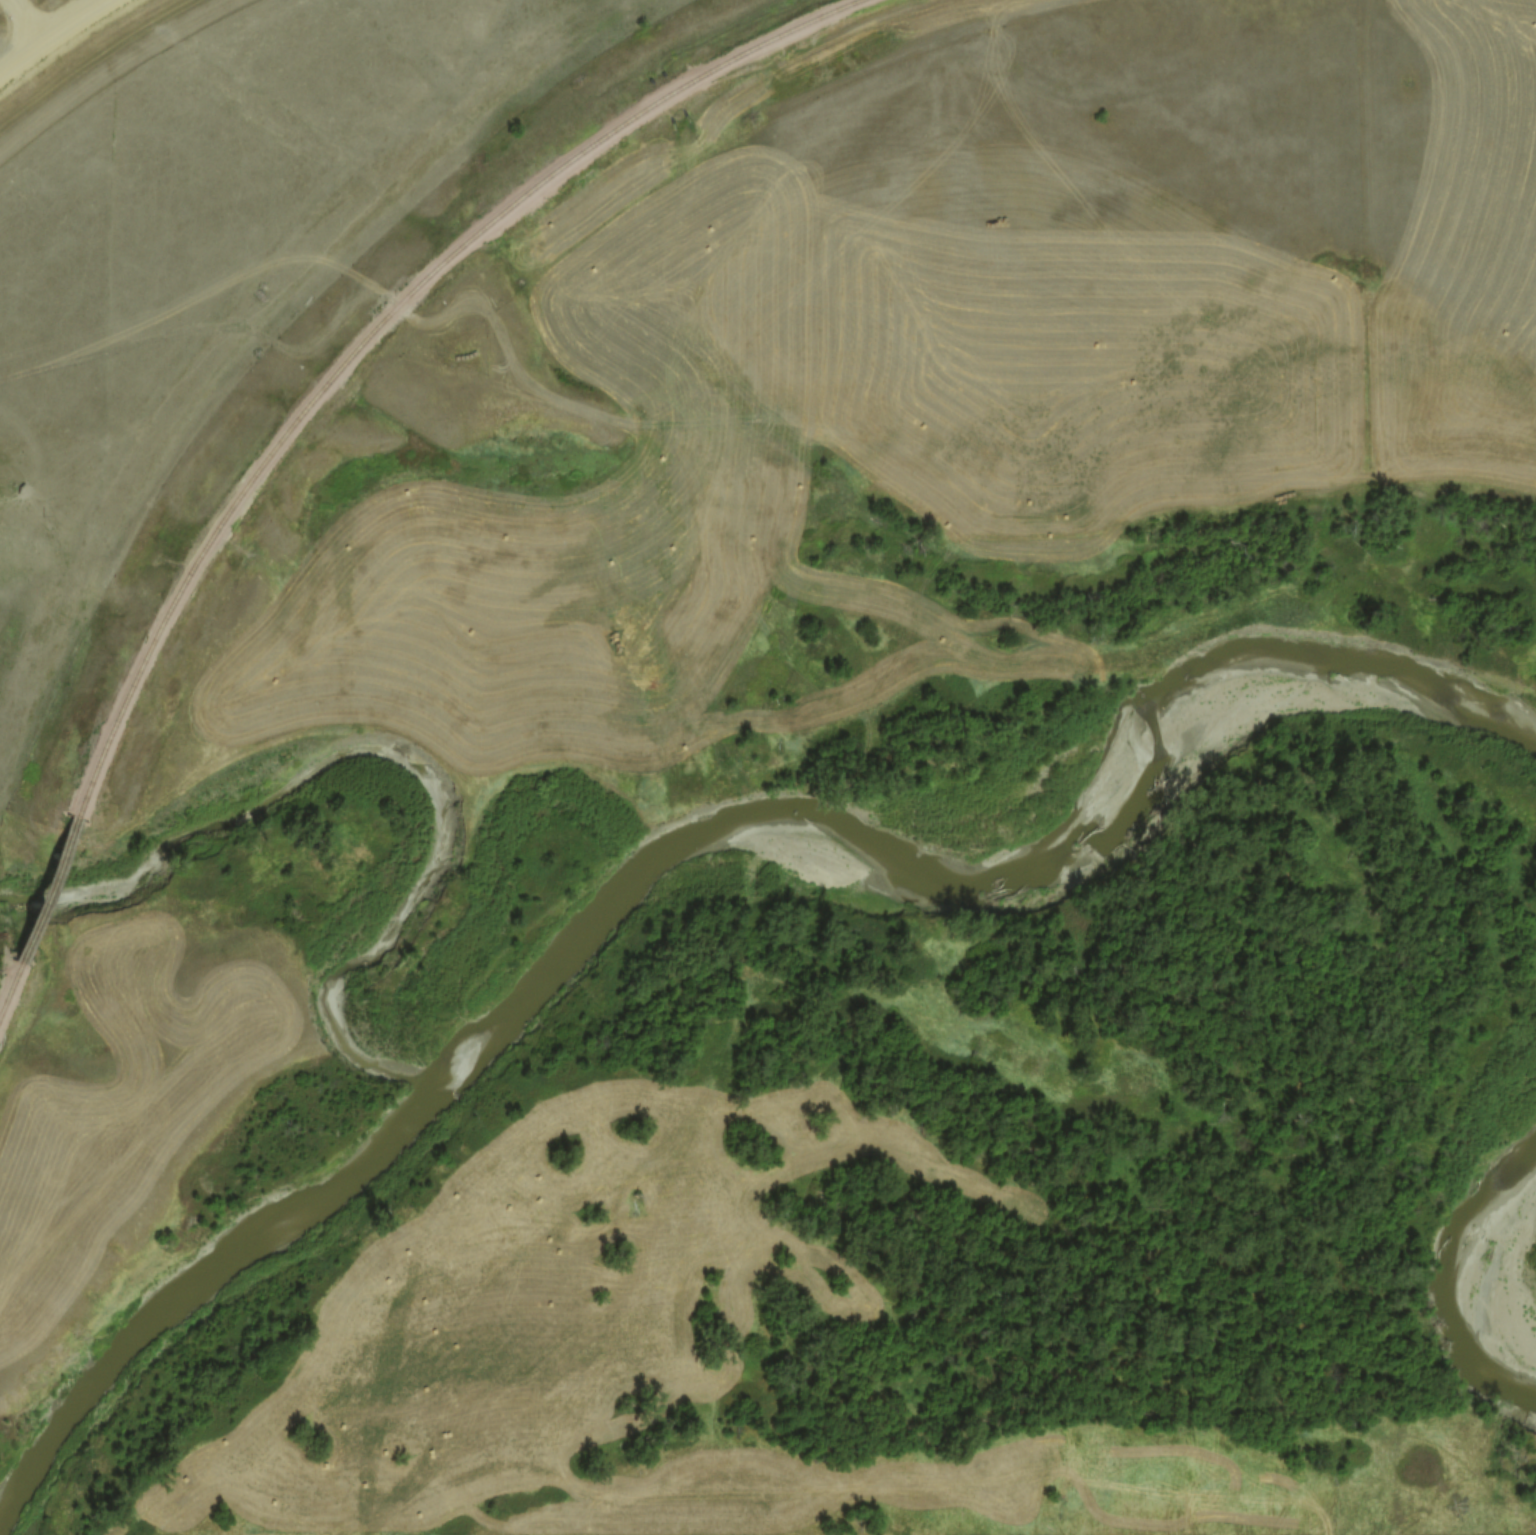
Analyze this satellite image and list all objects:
road: (40, 15)
road: (53, 34)
railway: (375, 322)
river: (1089, 794)
railway: (45, 890)
railway: (8, 982)
river: (316, 1200)
river: (1452, 1264)

